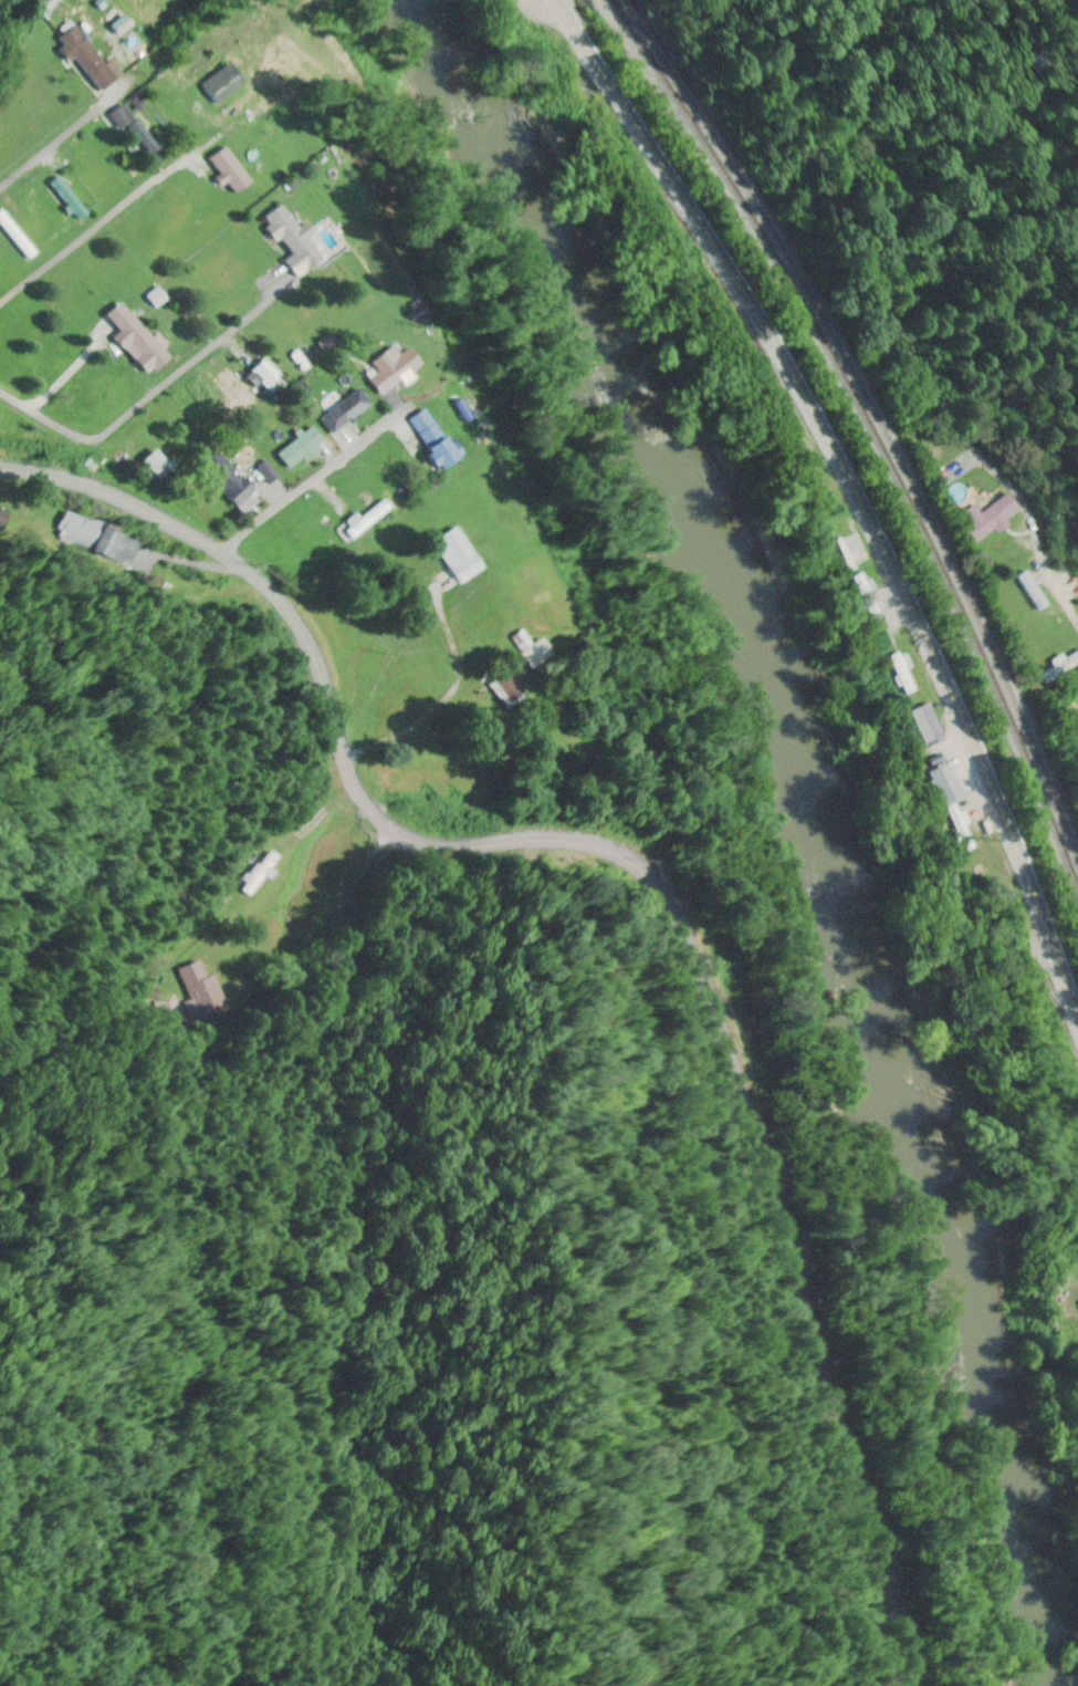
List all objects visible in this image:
building: (43, 4)
road: (571, 13)
building: (83, 56)
building: (217, 85)
building: (117, 118)
building: (144, 143)
road: (51, 147)
building: (224, 170)
building: (64, 199)
road: (107, 216)
building: (14, 238)
building: (286, 241)
building: (132, 341)
building: (385, 370)
road: (154, 394)
building: (345, 408)
railway: (877, 423)
building: (426, 440)
building: (296, 448)
road: (313, 480)
building: (228, 485)
road: (852, 489)
building: (1, 518)
building: (984, 519)
building: (362, 521)
building: (850, 551)
building: (451, 554)
road: (1045, 571)
building: (1030, 592)
building: (861, 599)
building: (531, 654)
building: (1058, 668)
building: (897, 672)
building: (915, 725)
road: (404, 732)
building: (1077, 747)
building: (945, 805)
river: (789, 820)
building: (252, 873)
road: (651, 883)
building: (1077, 1302)

